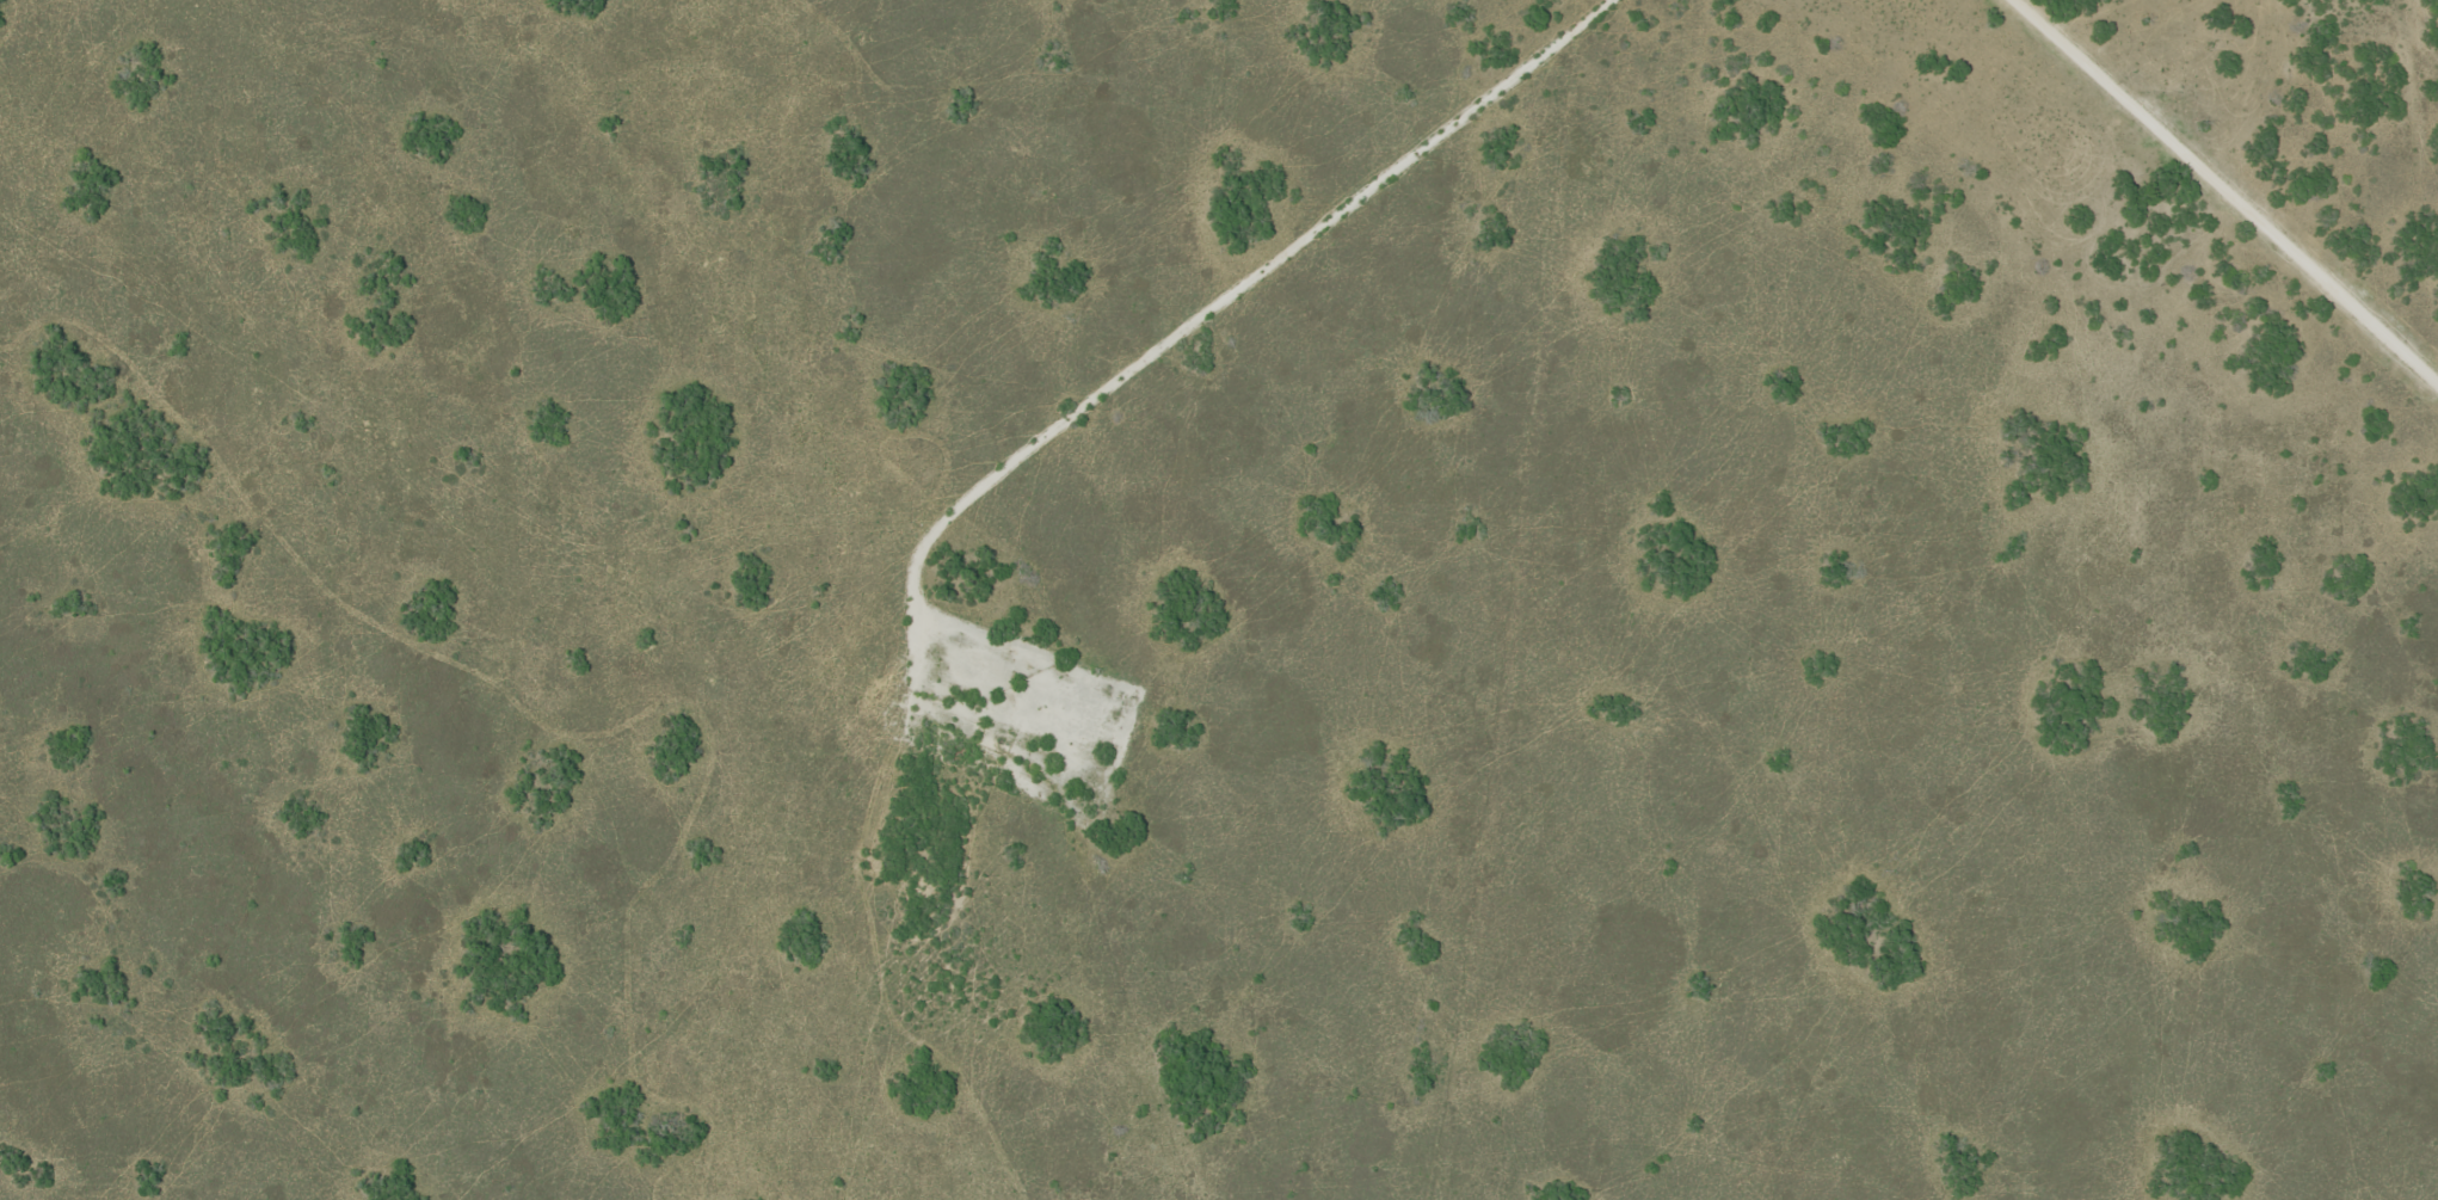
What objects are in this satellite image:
road: (2210, 197)

